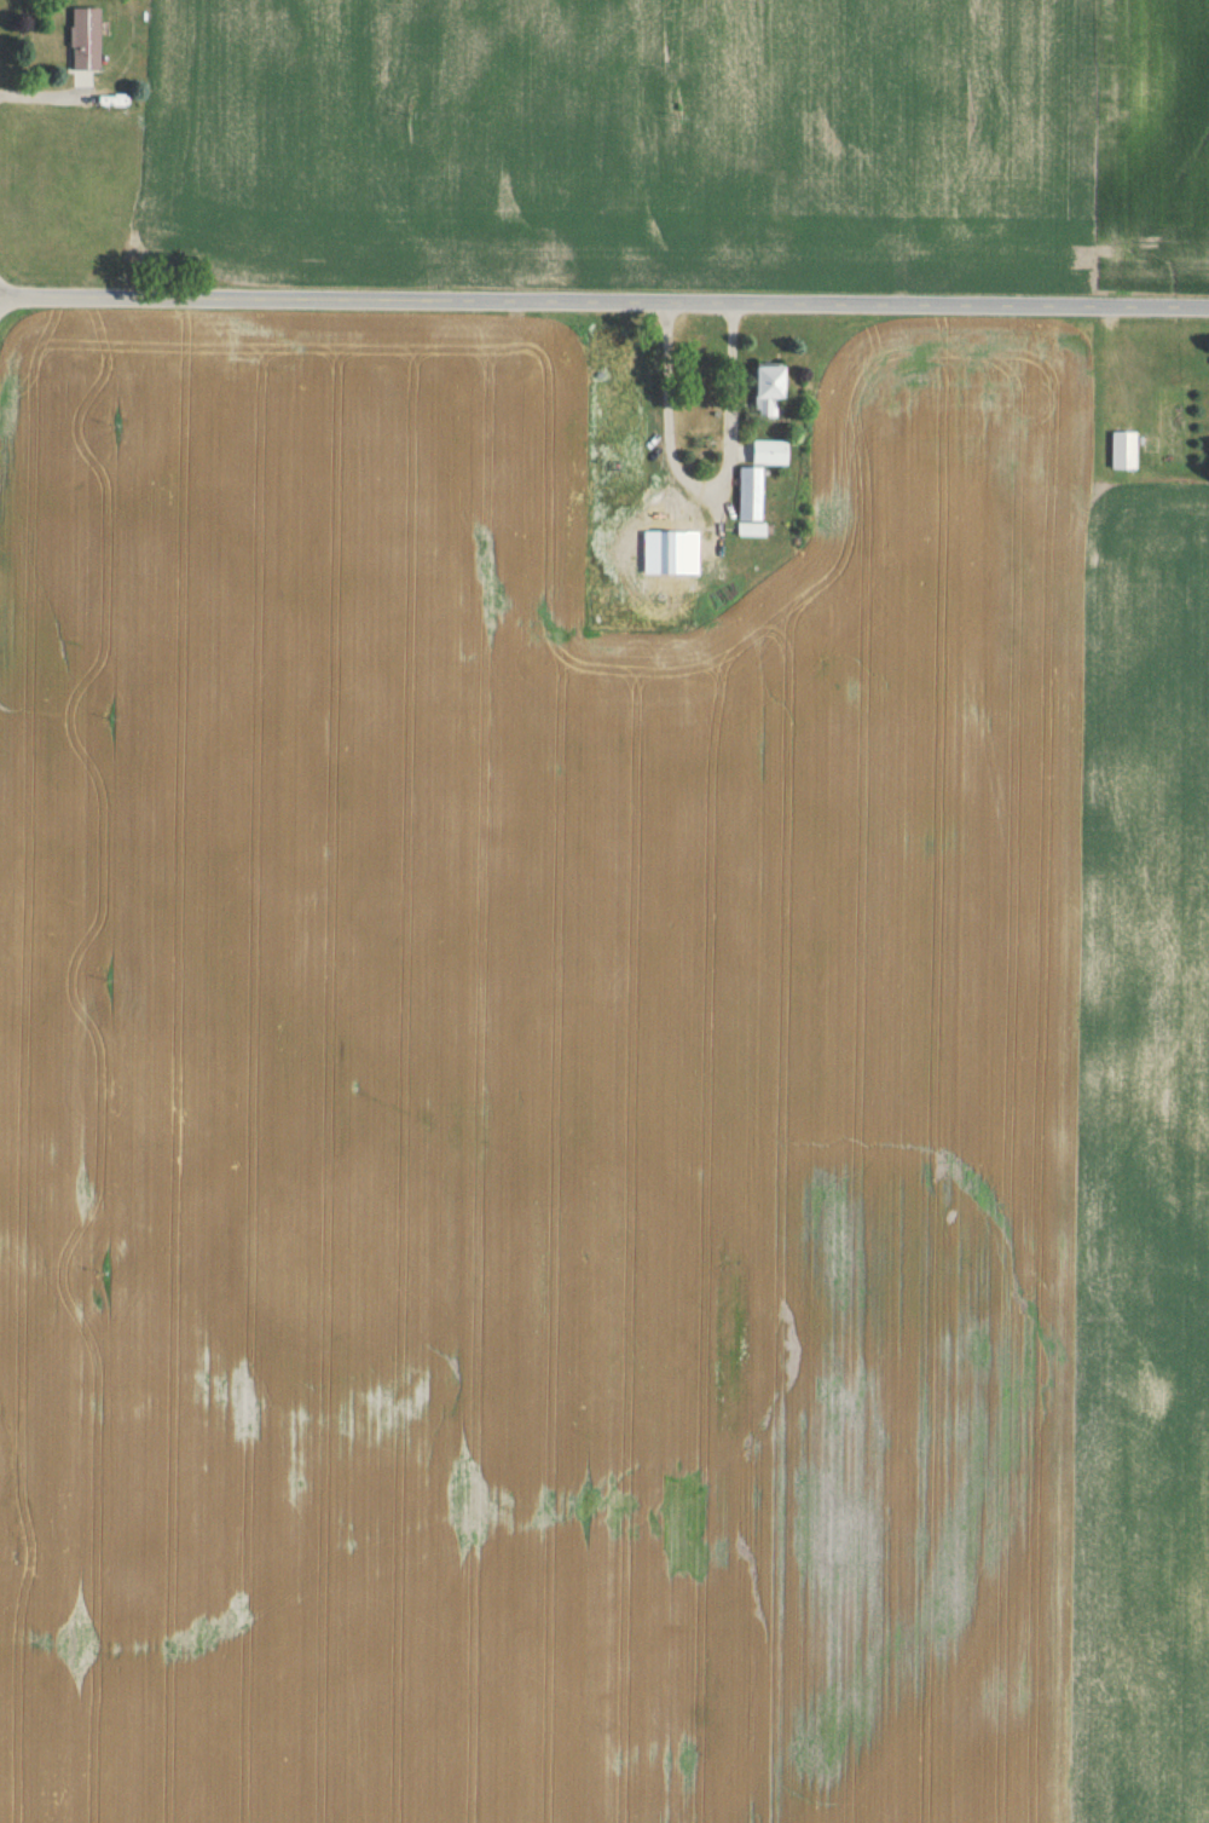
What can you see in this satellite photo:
building: (82, 44)
road: (603, 304)
building: (762, 396)
building: (1121, 455)
building: (765, 457)
road: (701, 491)
building: (746, 498)
building: (665, 572)

